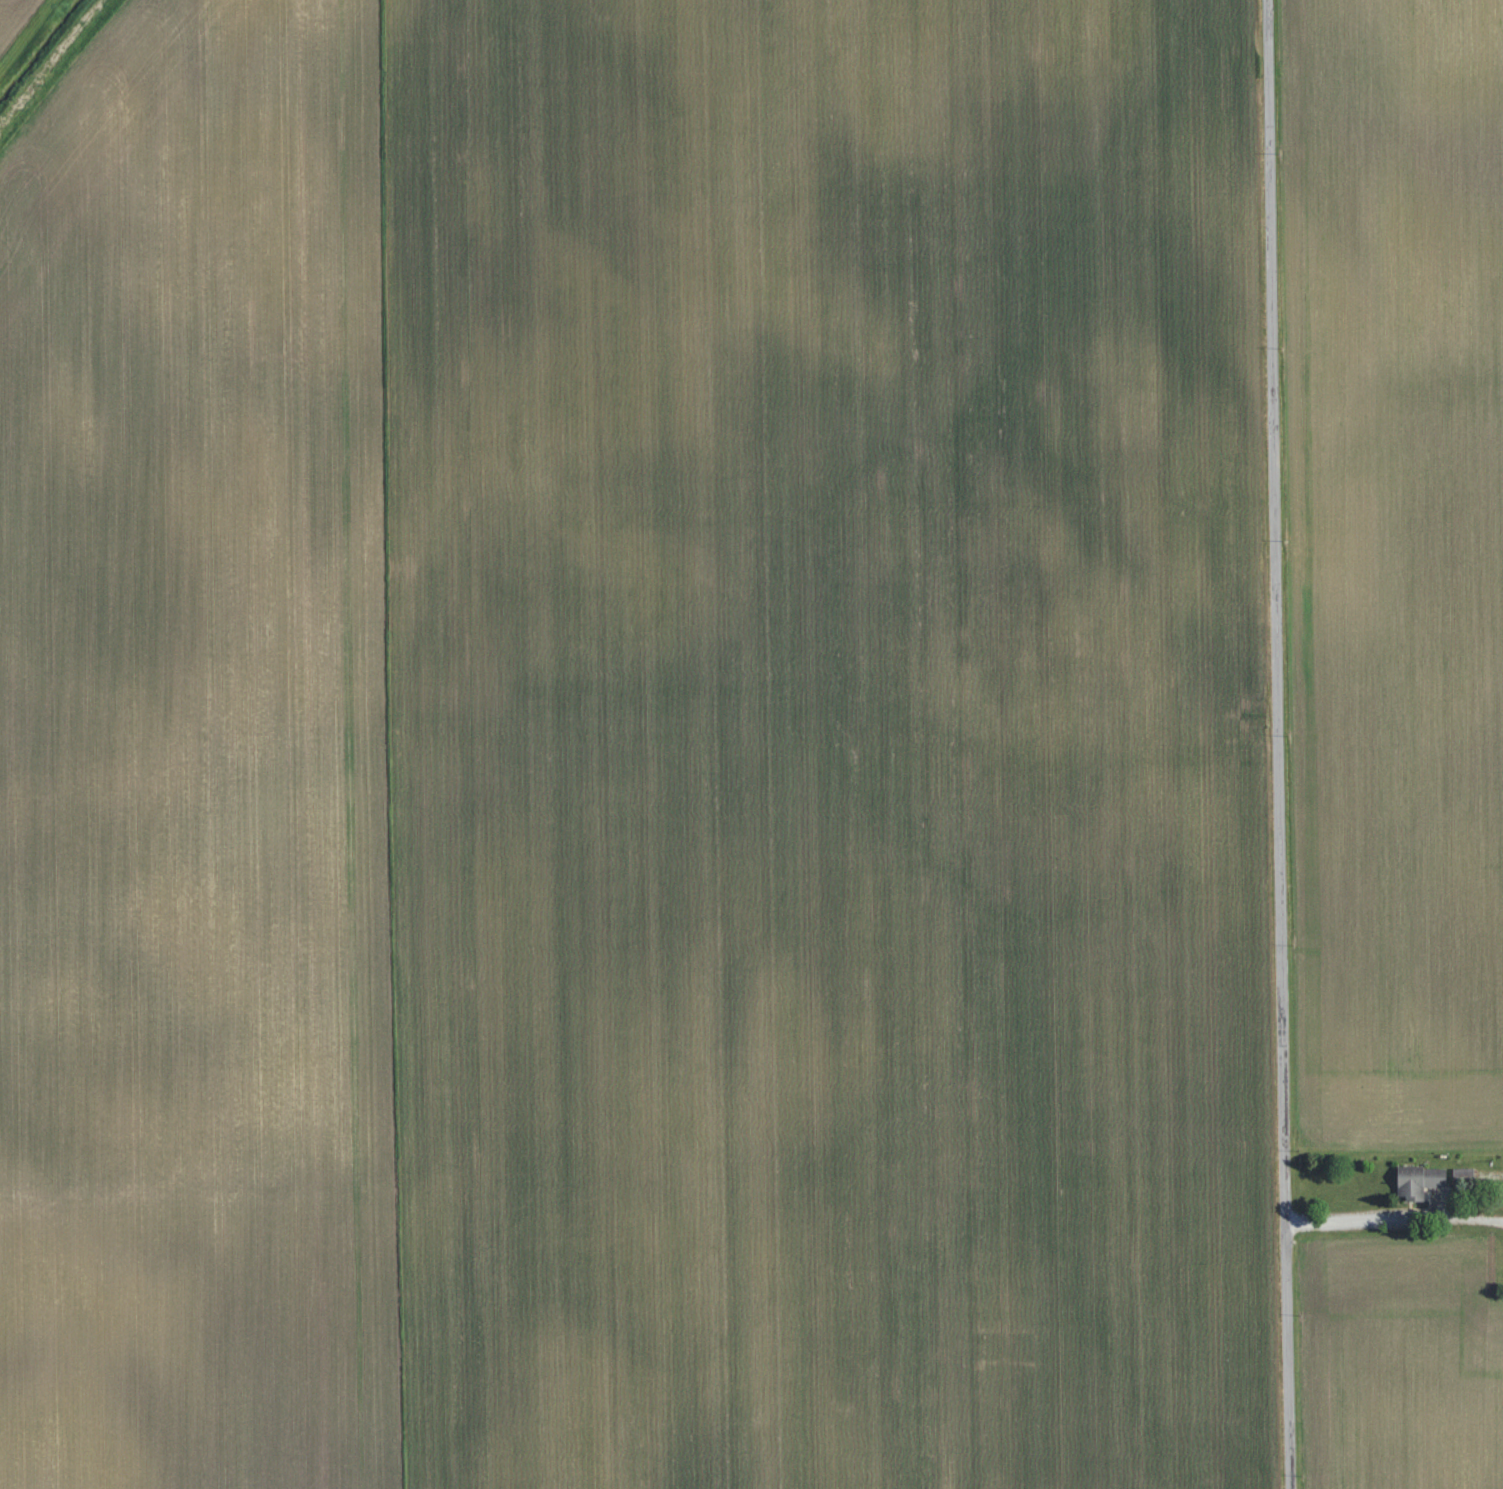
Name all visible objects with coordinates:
road: (1281, 744)
building: (1417, 1180)
building: (1479, 1180)

